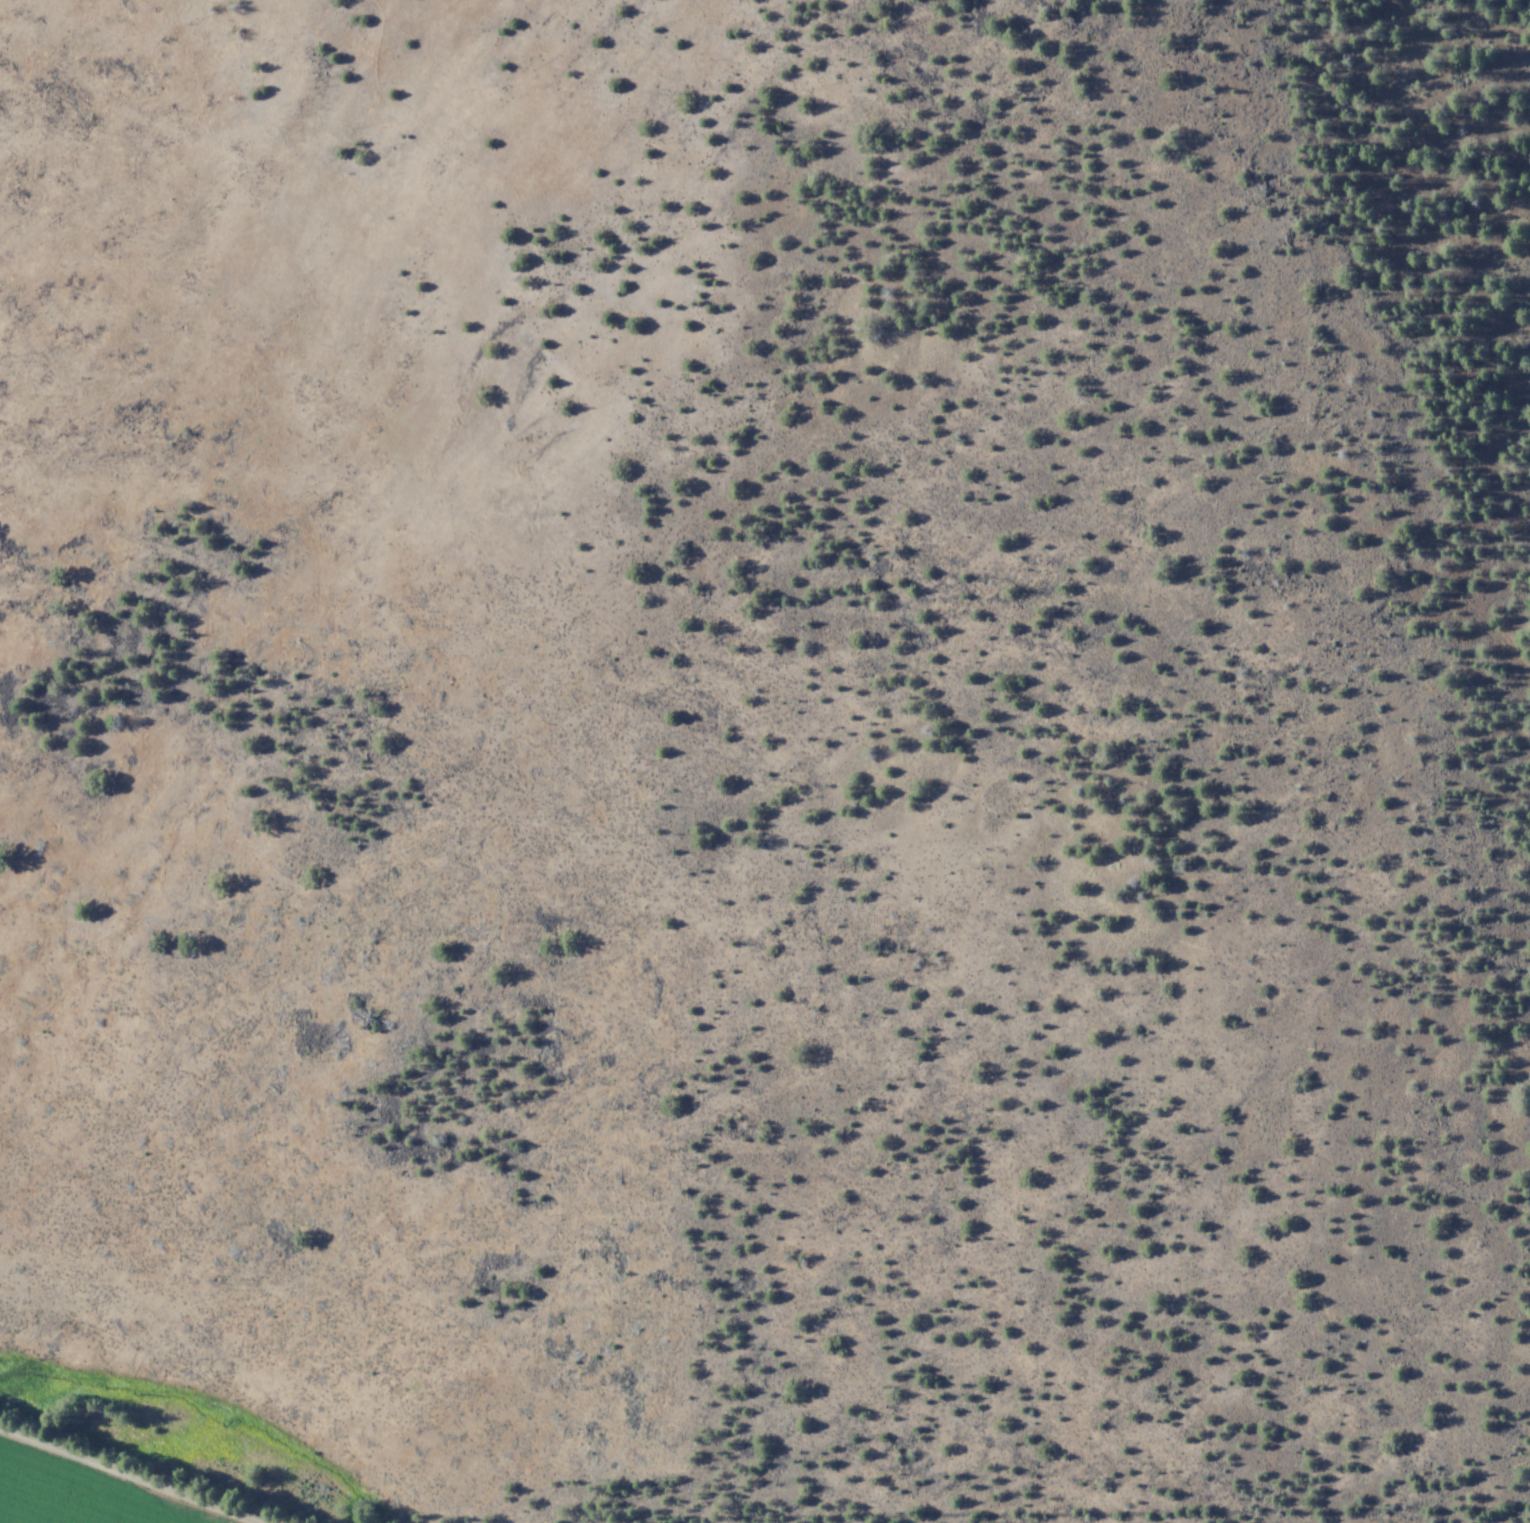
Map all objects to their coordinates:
road: (128, 1475)

